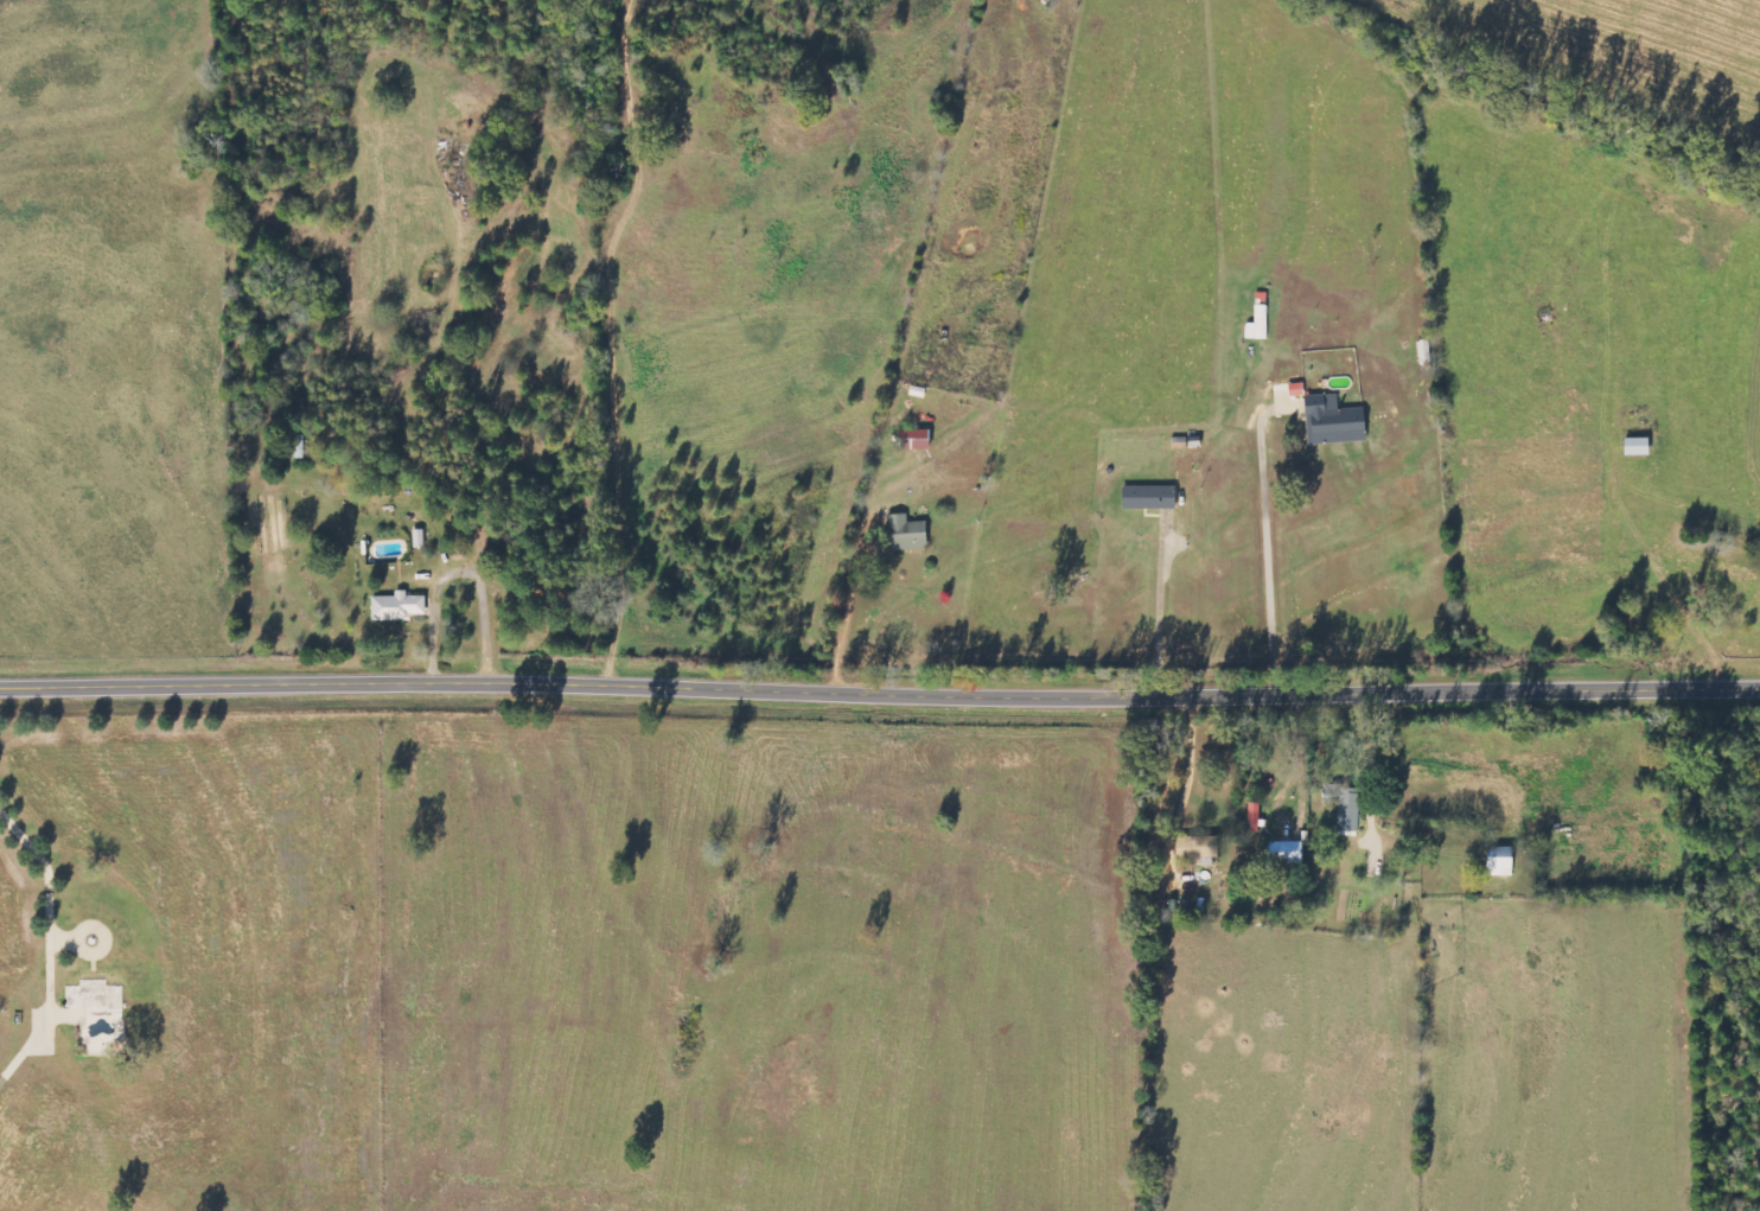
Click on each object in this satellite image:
building: (1329, 422)
building: (918, 439)
building: (1632, 446)
building: (1144, 497)
building: (910, 534)
building: (420, 538)
road: (1269, 559)
building: (400, 607)
road: (1161, 613)
road: (879, 693)
road: (1193, 758)
building: (1340, 805)
building: (1252, 817)
building: (1194, 848)
building: (1282, 852)
building: (1494, 861)
road: (46, 912)

